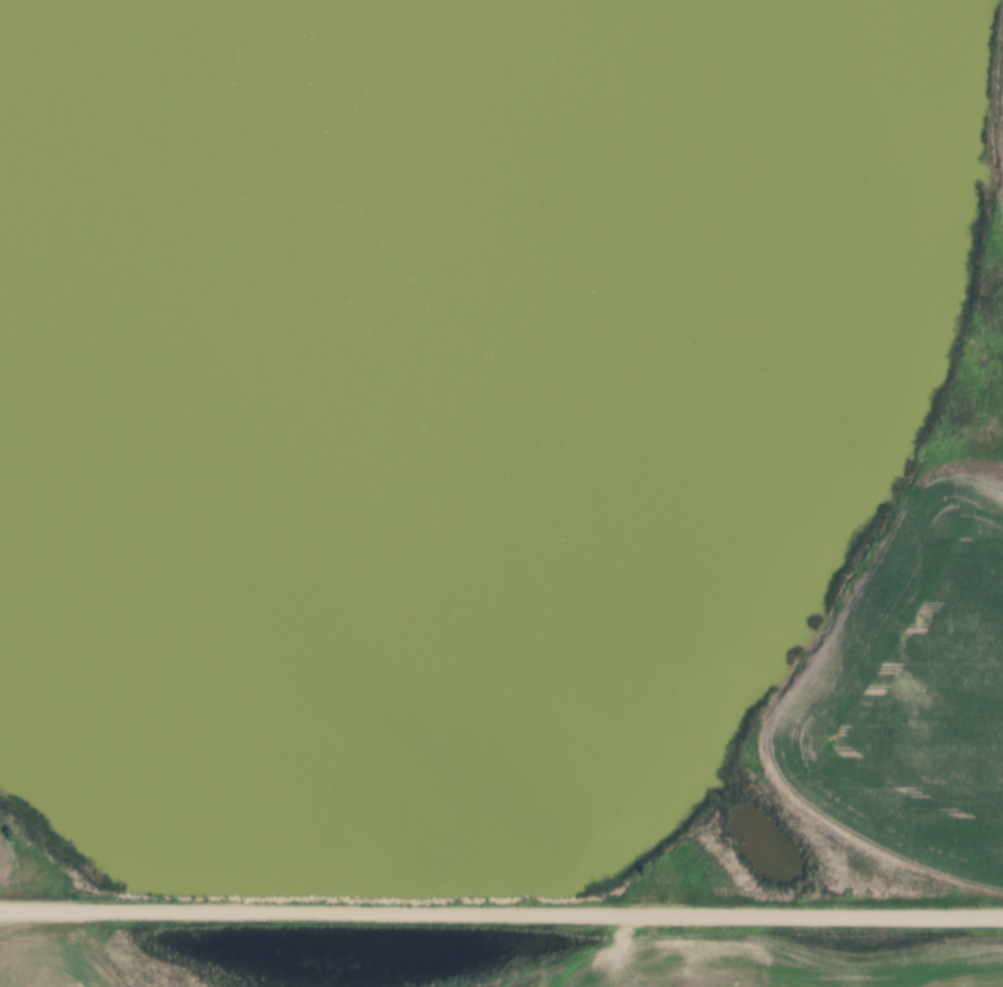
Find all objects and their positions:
road: (501, 910)

